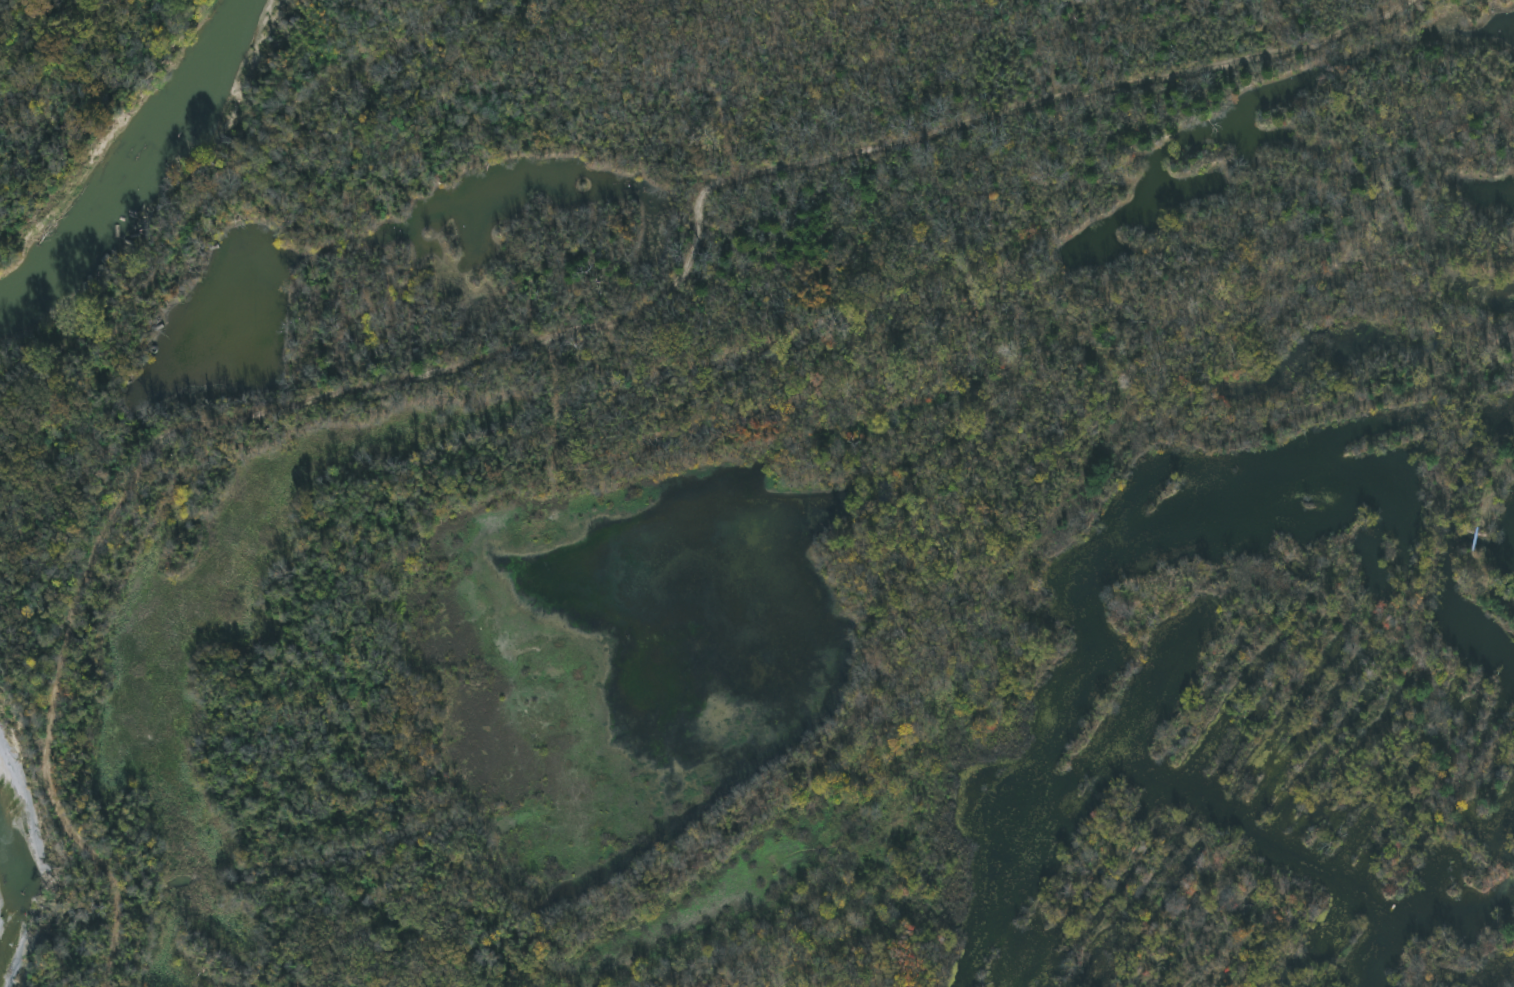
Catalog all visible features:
river: (149, 165)
river: (10, 857)

